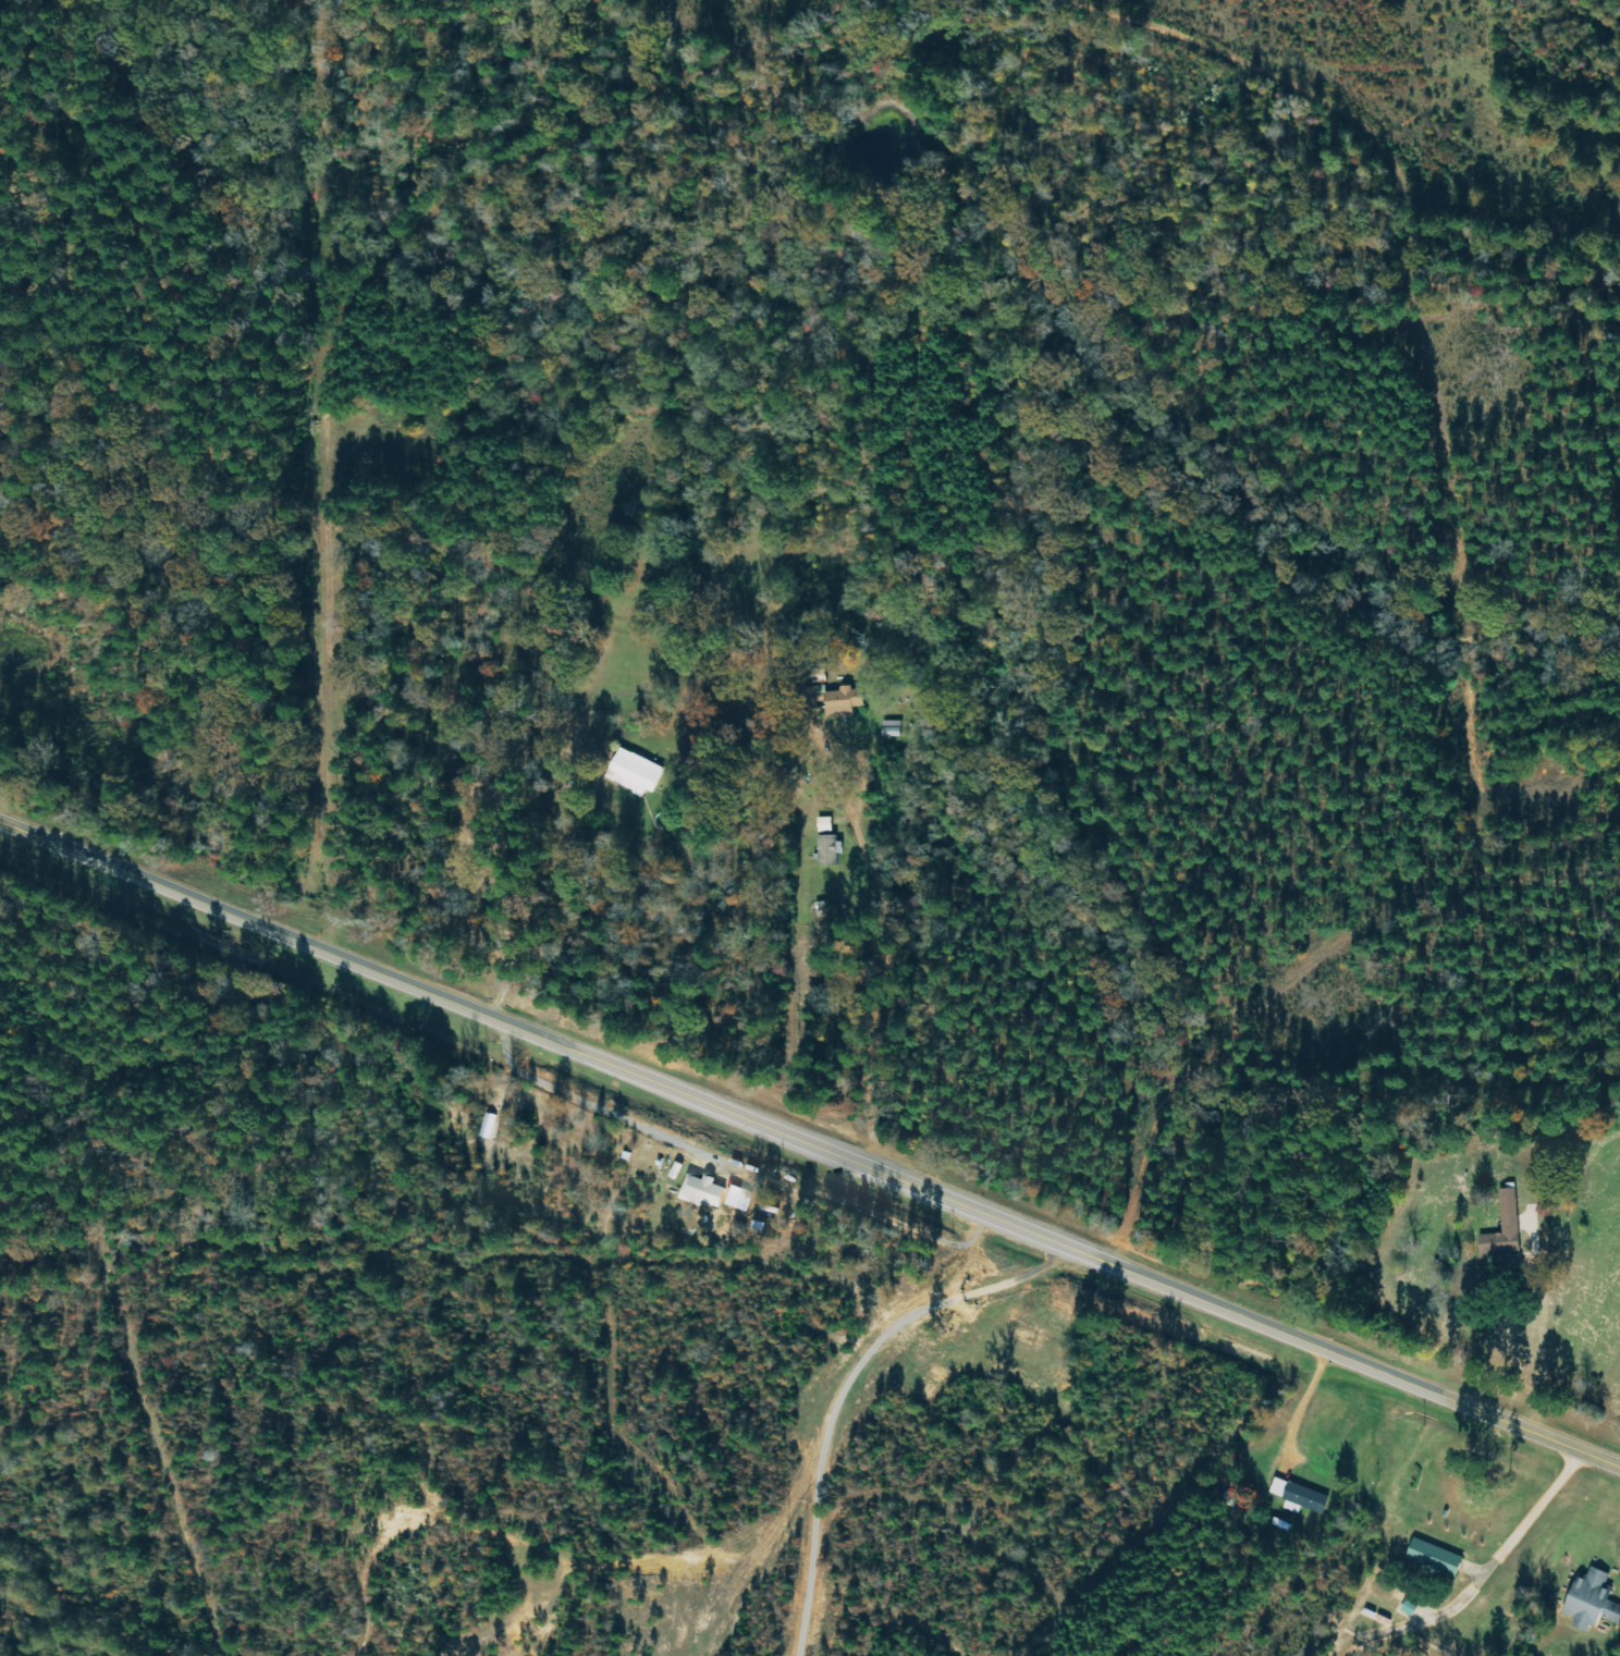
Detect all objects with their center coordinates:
building: (842, 703)
building: (634, 773)
building: (826, 825)
building: (829, 850)
road: (459, 1005)
building: (710, 1192)
building: (745, 1199)
building: (1509, 1228)
road: (1268, 1329)
road: (1543, 1353)
road: (1590, 1388)
building: (1302, 1496)
road: (1536, 1516)
building: (1439, 1559)
building: (1590, 1600)

